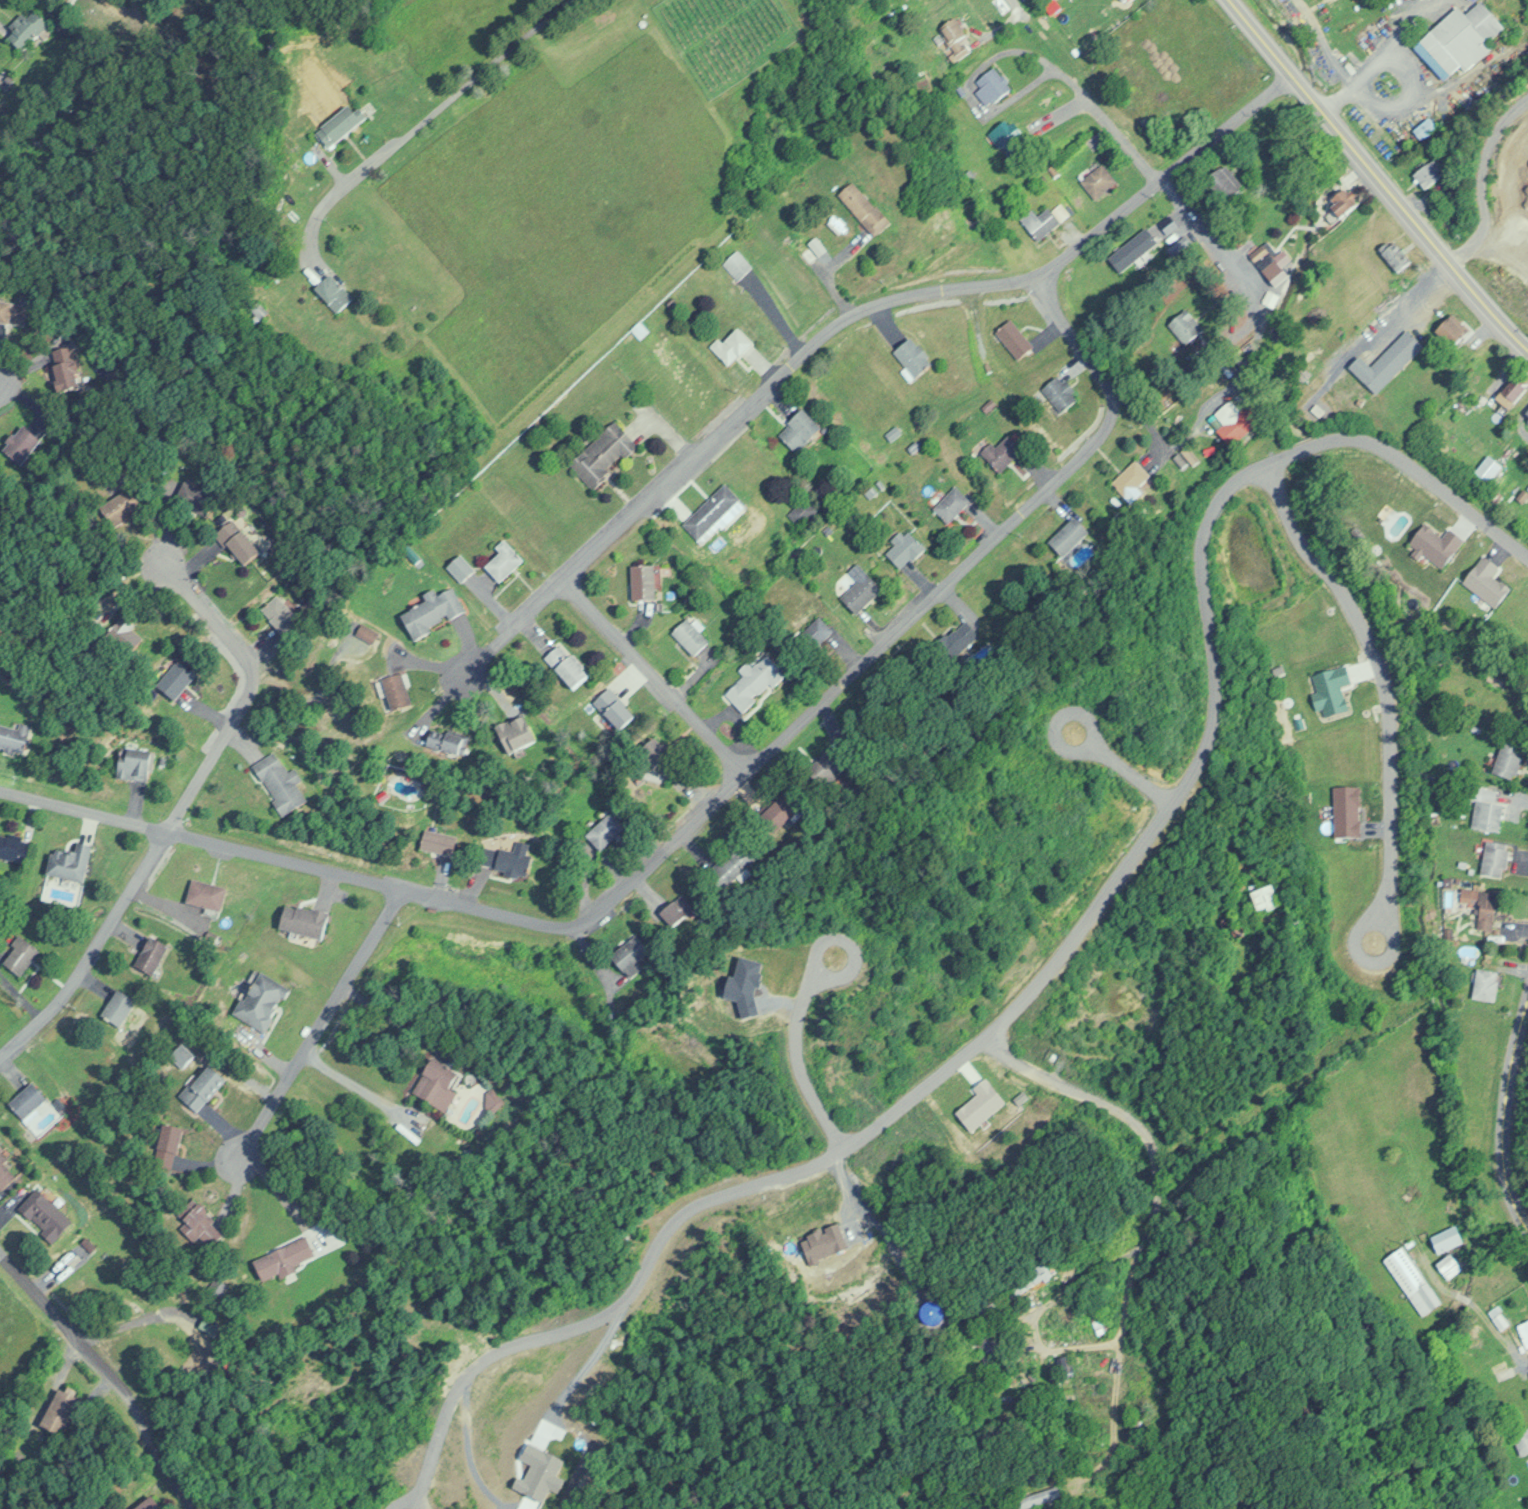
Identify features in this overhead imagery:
building: (1124, 1)
road: (1013, 3)
building: (26, 28)
building: (957, 36)
building: (1460, 39)
building: (992, 84)
road: (414, 121)
building: (338, 125)
building: (1424, 127)
building: (1008, 137)
building: (1429, 172)
road: (1375, 177)
building: (1099, 181)
building: (1226, 183)
building: (1344, 204)
building: (866, 208)
building: (1045, 220)
building: (1262, 253)
building: (1395, 255)
building: (1133, 256)
building: (737, 264)
building: (334, 292)
building: (11, 313)
road: (848, 316)
building: (1186, 326)
building: (1453, 331)
road: (1078, 335)
building: (1016, 339)
building: (732, 345)
building: (915, 357)
building: (1392, 360)
building: (66, 370)
building: (1061, 392)
building: (1513, 392)
road: (1112, 403)
building: (1527, 410)
building: (1239, 425)
building: (802, 430)
building: (20, 444)
building: (1004, 451)
building: (604, 453)
building: (1489, 468)
building: (1132, 477)
building: (195, 497)
building: (954, 502)
building: (123, 507)
building: (803, 511)
building: (714, 512)
building: (1070, 535)
building: (240, 544)
building: (908, 547)
building: (504, 561)
building: (645, 581)
building: (863, 587)
building: (280, 614)
building: (432, 614)
building: (367, 633)
building: (692, 635)
building: (568, 665)
road: (652, 676)
building: (177, 680)
building: (754, 681)
road: (1381, 685)
building: (397, 690)
building: (616, 707)
building: (516, 733)
building: (14, 737)
building: (446, 740)
building: (662, 756)
building: (1509, 759)
building: (136, 764)
building: (825, 767)
building: (281, 781)
building: (780, 811)
building: (1487, 813)
road: (173, 816)
building: (605, 830)
building: (441, 840)
building: (14, 847)
building: (1496, 858)
building: (514, 859)
building: (71, 861)
building: (730, 863)
road: (632, 874)
building: (207, 893)
building: (1269, 897)
building: (677, 909)
building: (1484, 909)
building: (305, 920)
building: (151, 954)
building: (631, 954)
building: (21, 955)
road: (1048, 960)
building: (1486, 983)
building: (263, 1000)
building: (119, 1007)
road: (316, 1021)
road: (794, 1050)
building: (183, 1055)
building: (438, 1083)
building: (205, 1087)
building: (28, 1098)
road: (1503, 1117)
building: (171, 1144)
building: (6, 1170)
building: (44, 1213)
building: (200, 1224)
building: (1449, 1237)
building: (284, 1257)
building: (1450, 1264)
building: (1041, 1273)
building: (1413, 1280)
building: (932, 1312)
road: (60, 1318)
building: (1058, 1329)
building: (1524, 1331)
building: (60, 1411)
building: (1521, 1440)
building: (1037, 1497)
building: (149, 1503)

